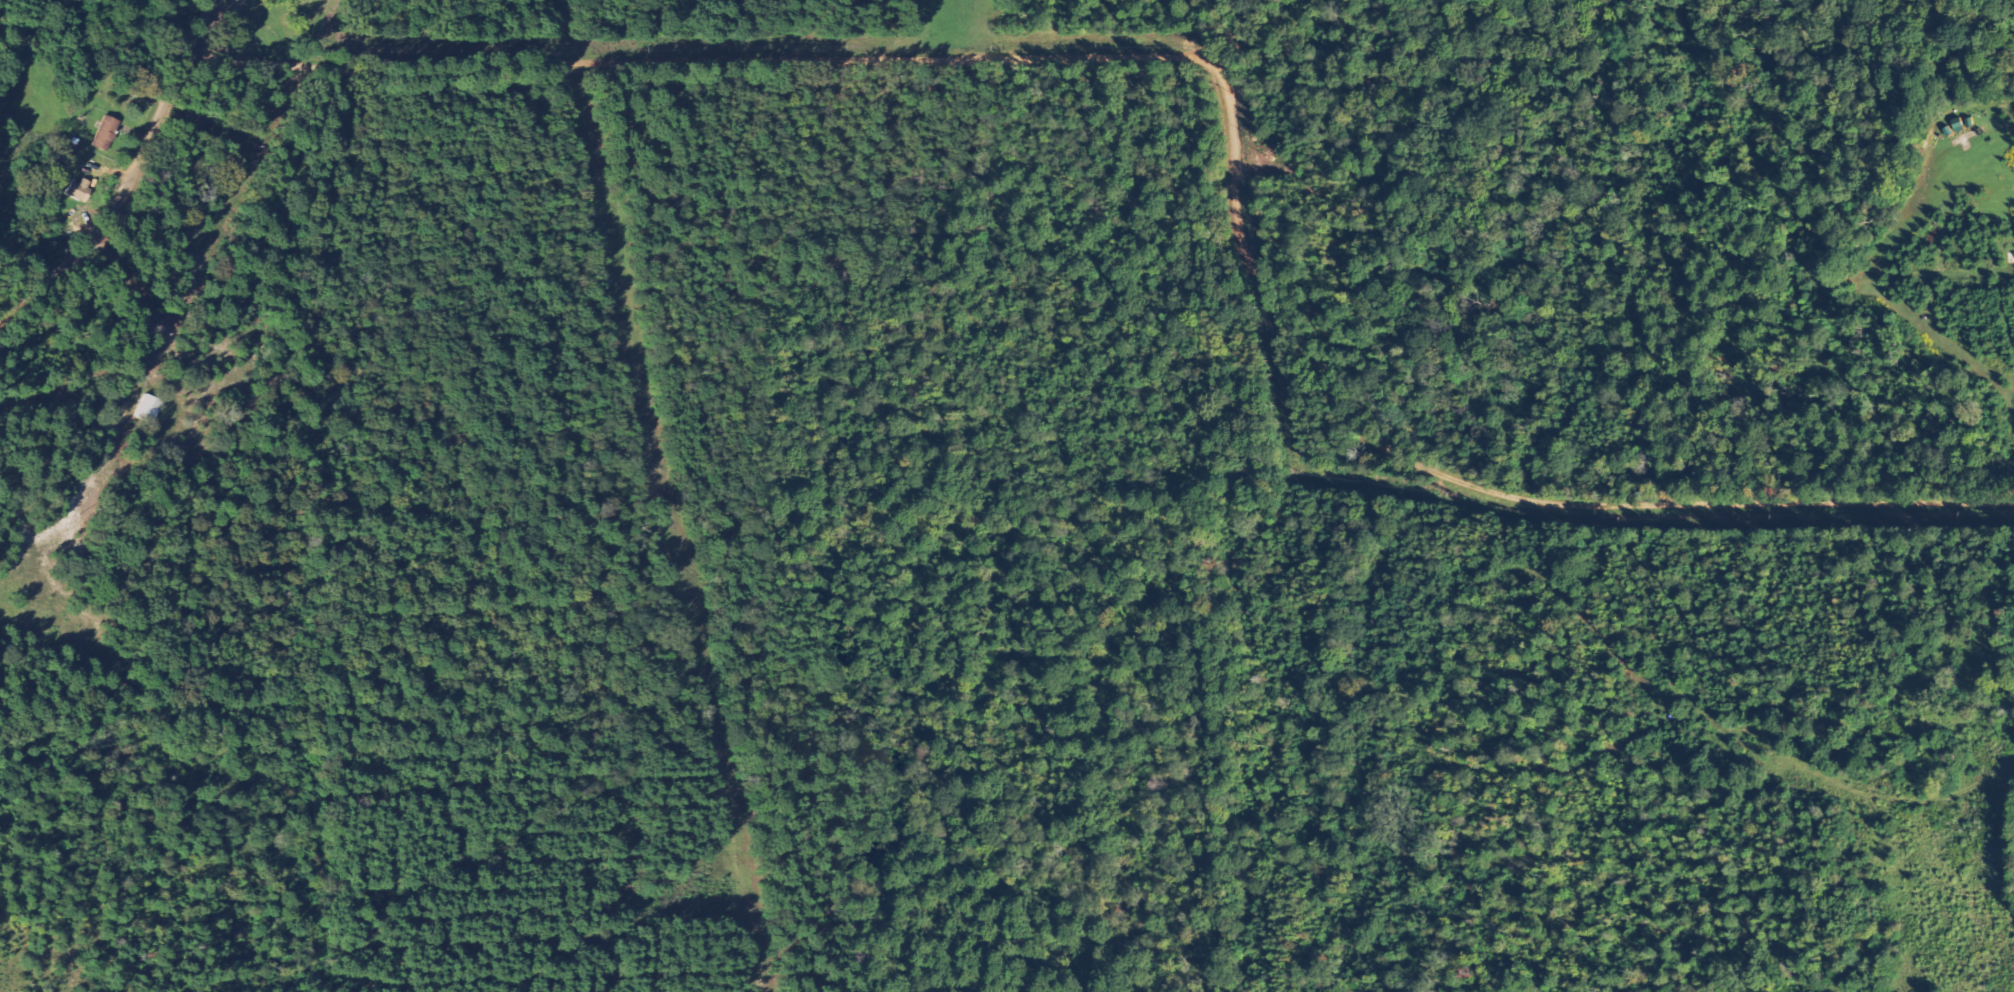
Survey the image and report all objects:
building: (110, 133)
road: (1195, 142)
road: (133, 187)
building: (83, 190)
building: (152, 408)

